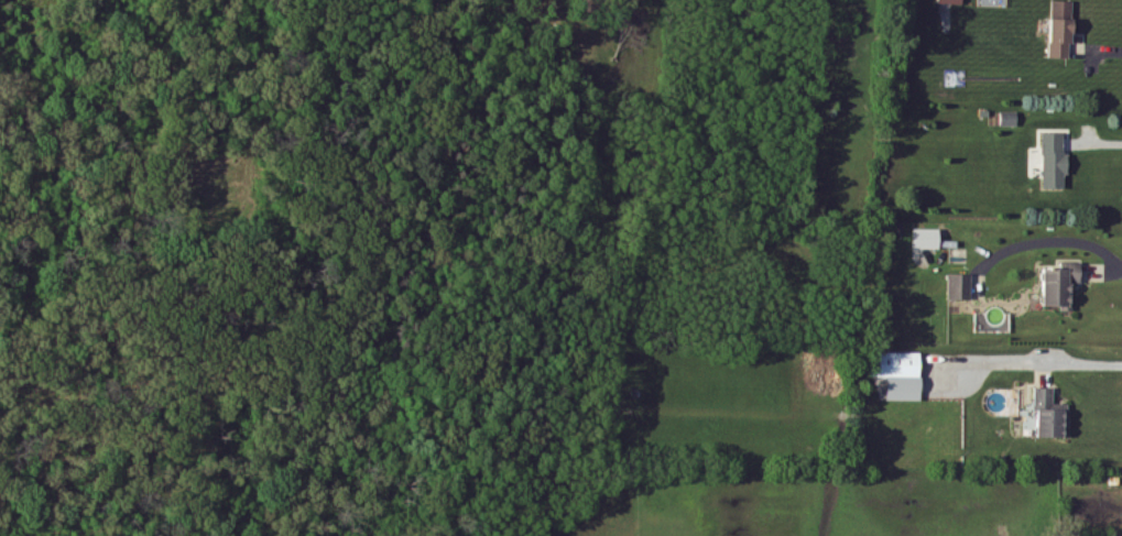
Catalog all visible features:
building: (1061, 31)
road: (1097, 51)
building: (1009, 120)
road: (1096, 143)
building: (1055, 162)
building: (927, 240)
road: (1059, 242)
building: (1060, 286)
building: (960, 288)
road: (1023, 364)
building: (901, 365)
building: (1050, 415)

